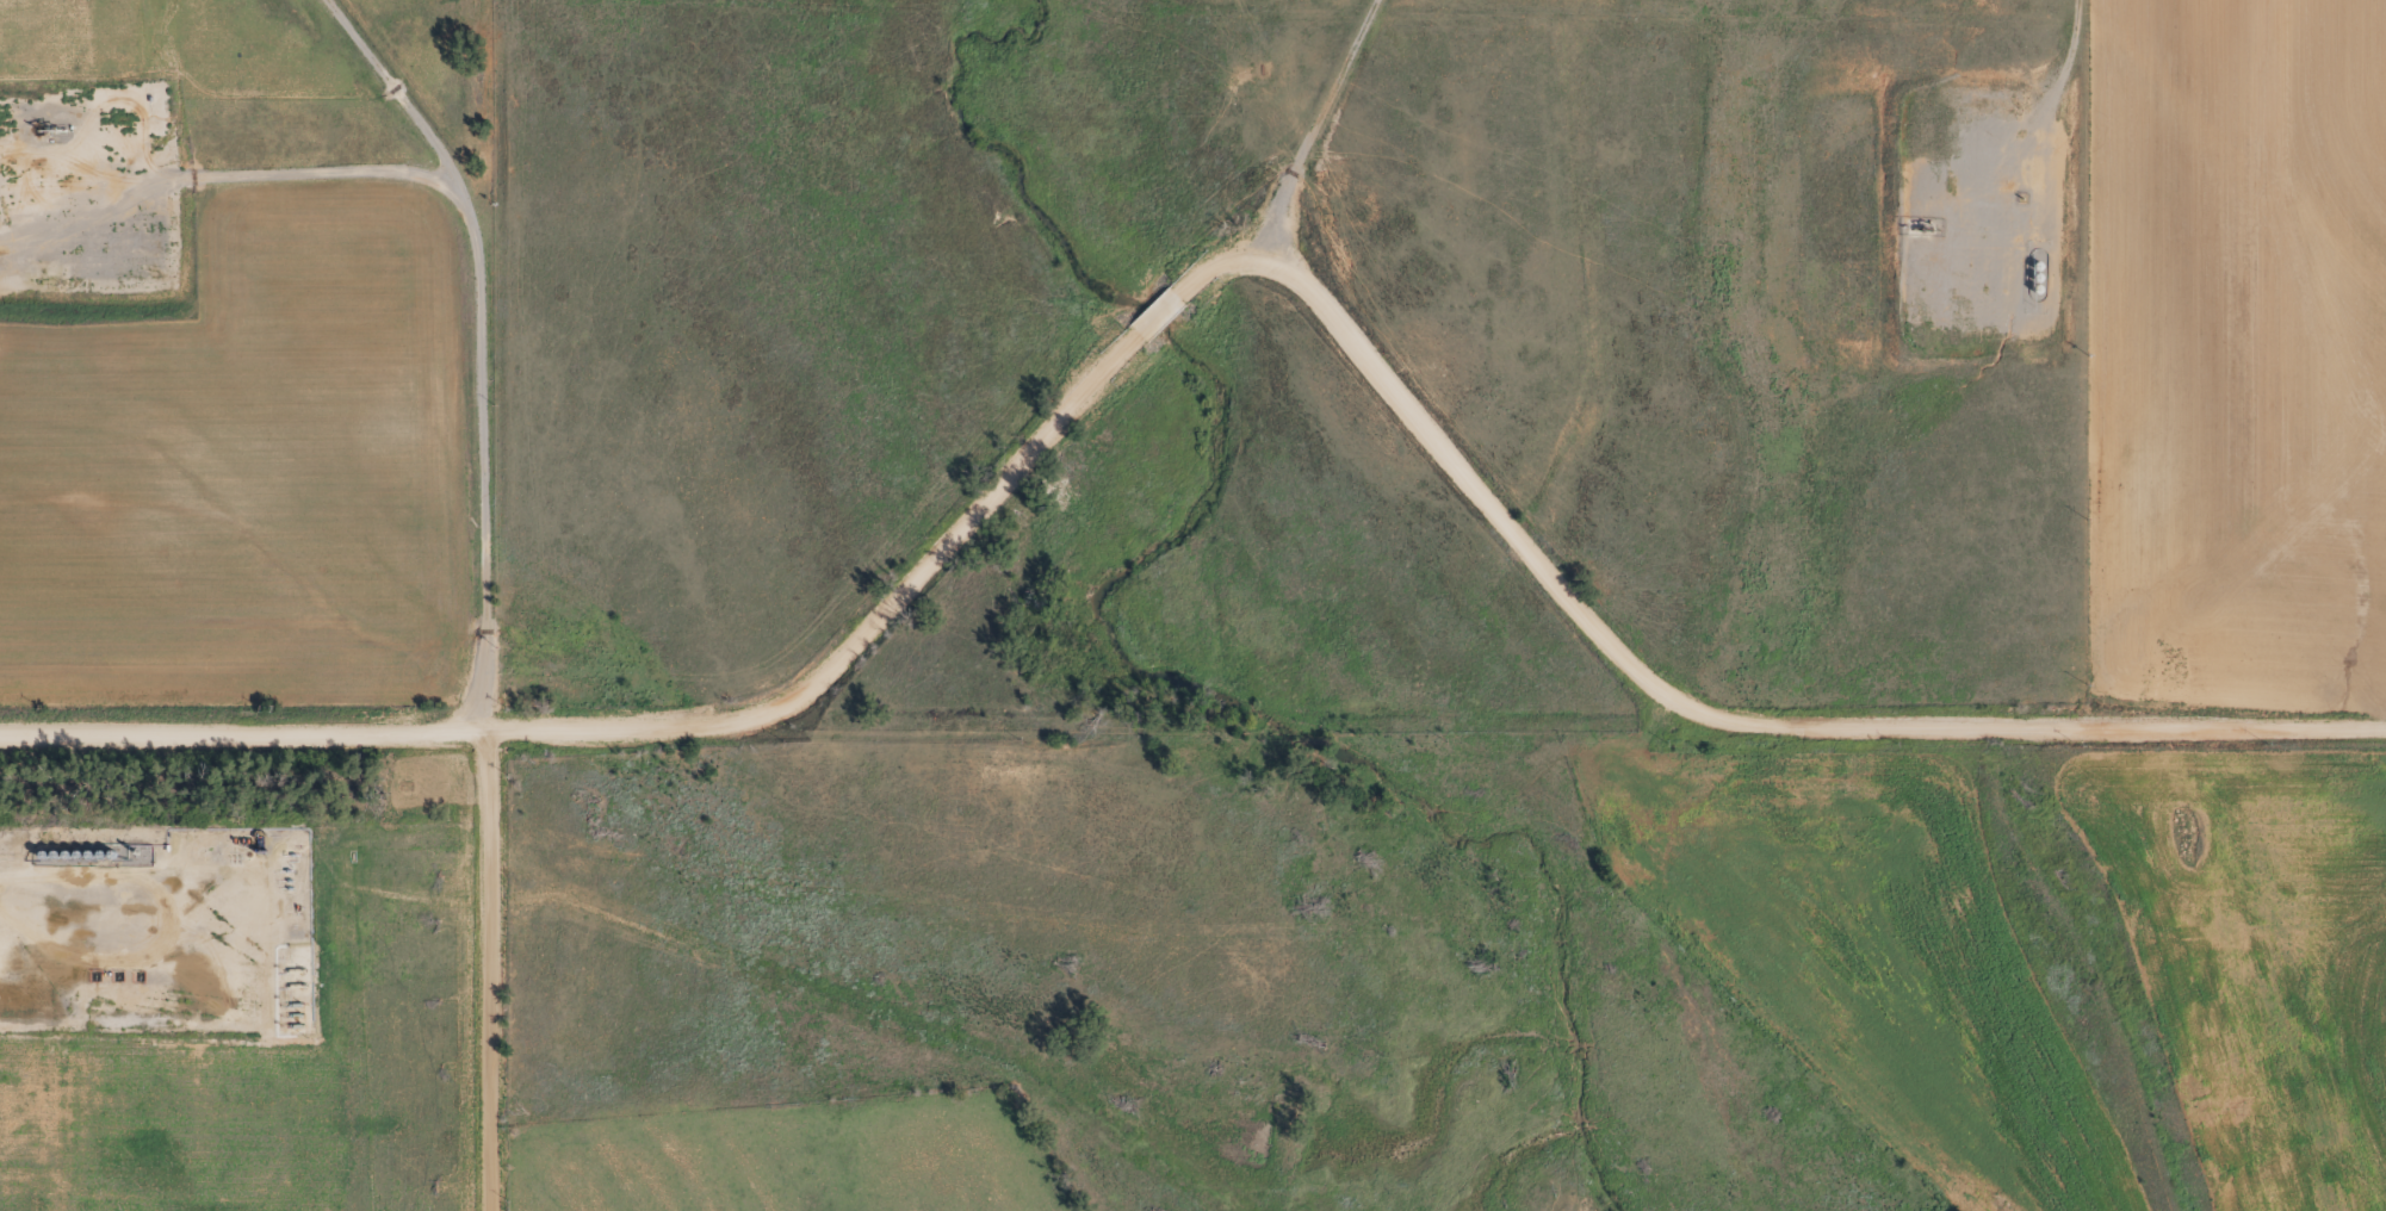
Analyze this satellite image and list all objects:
building: (35, 271)
building: (122, 271)
road: (1201, 278)
park: (407, 785)
road: (491, 969)

